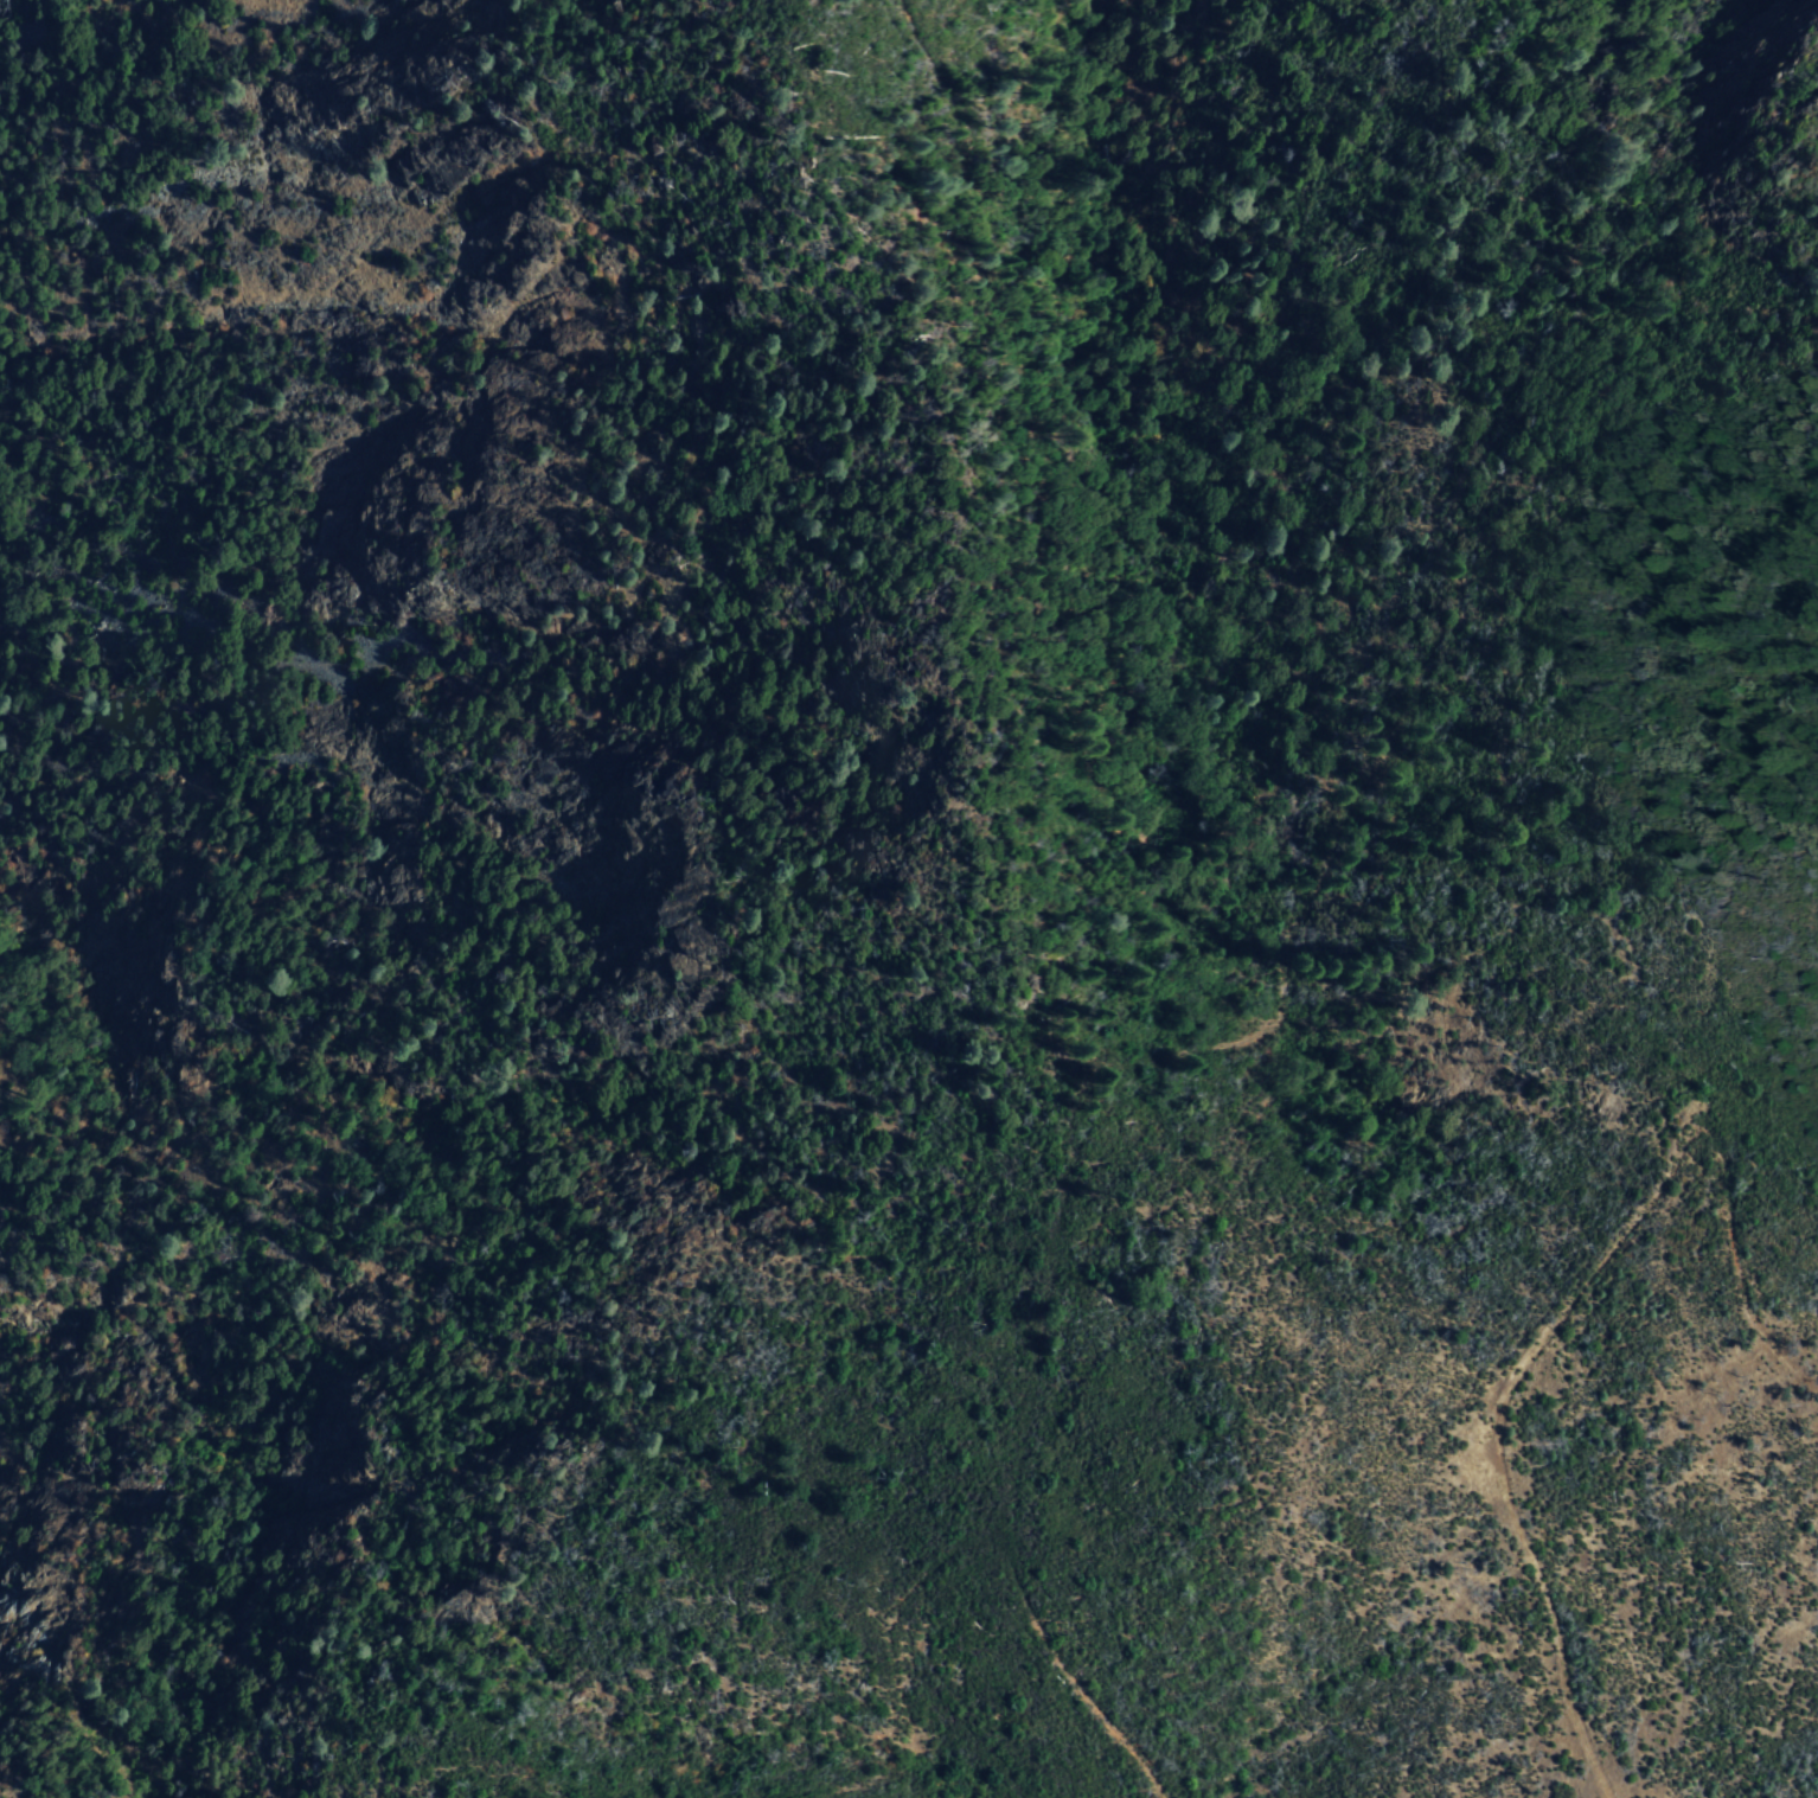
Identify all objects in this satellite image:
road: (1254, 941)
road: (974, 1716)

